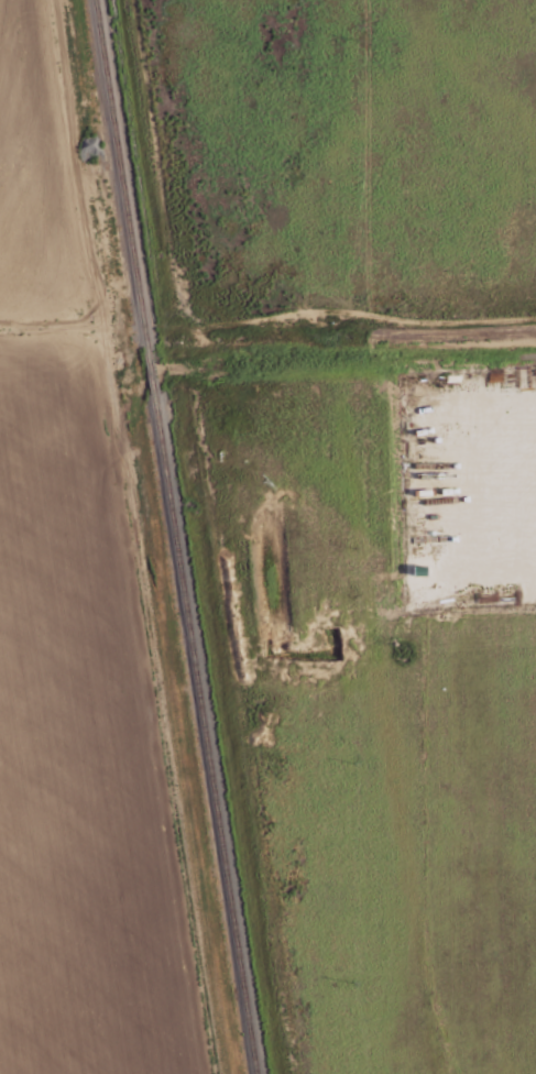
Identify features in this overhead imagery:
railway: (175, 536)

